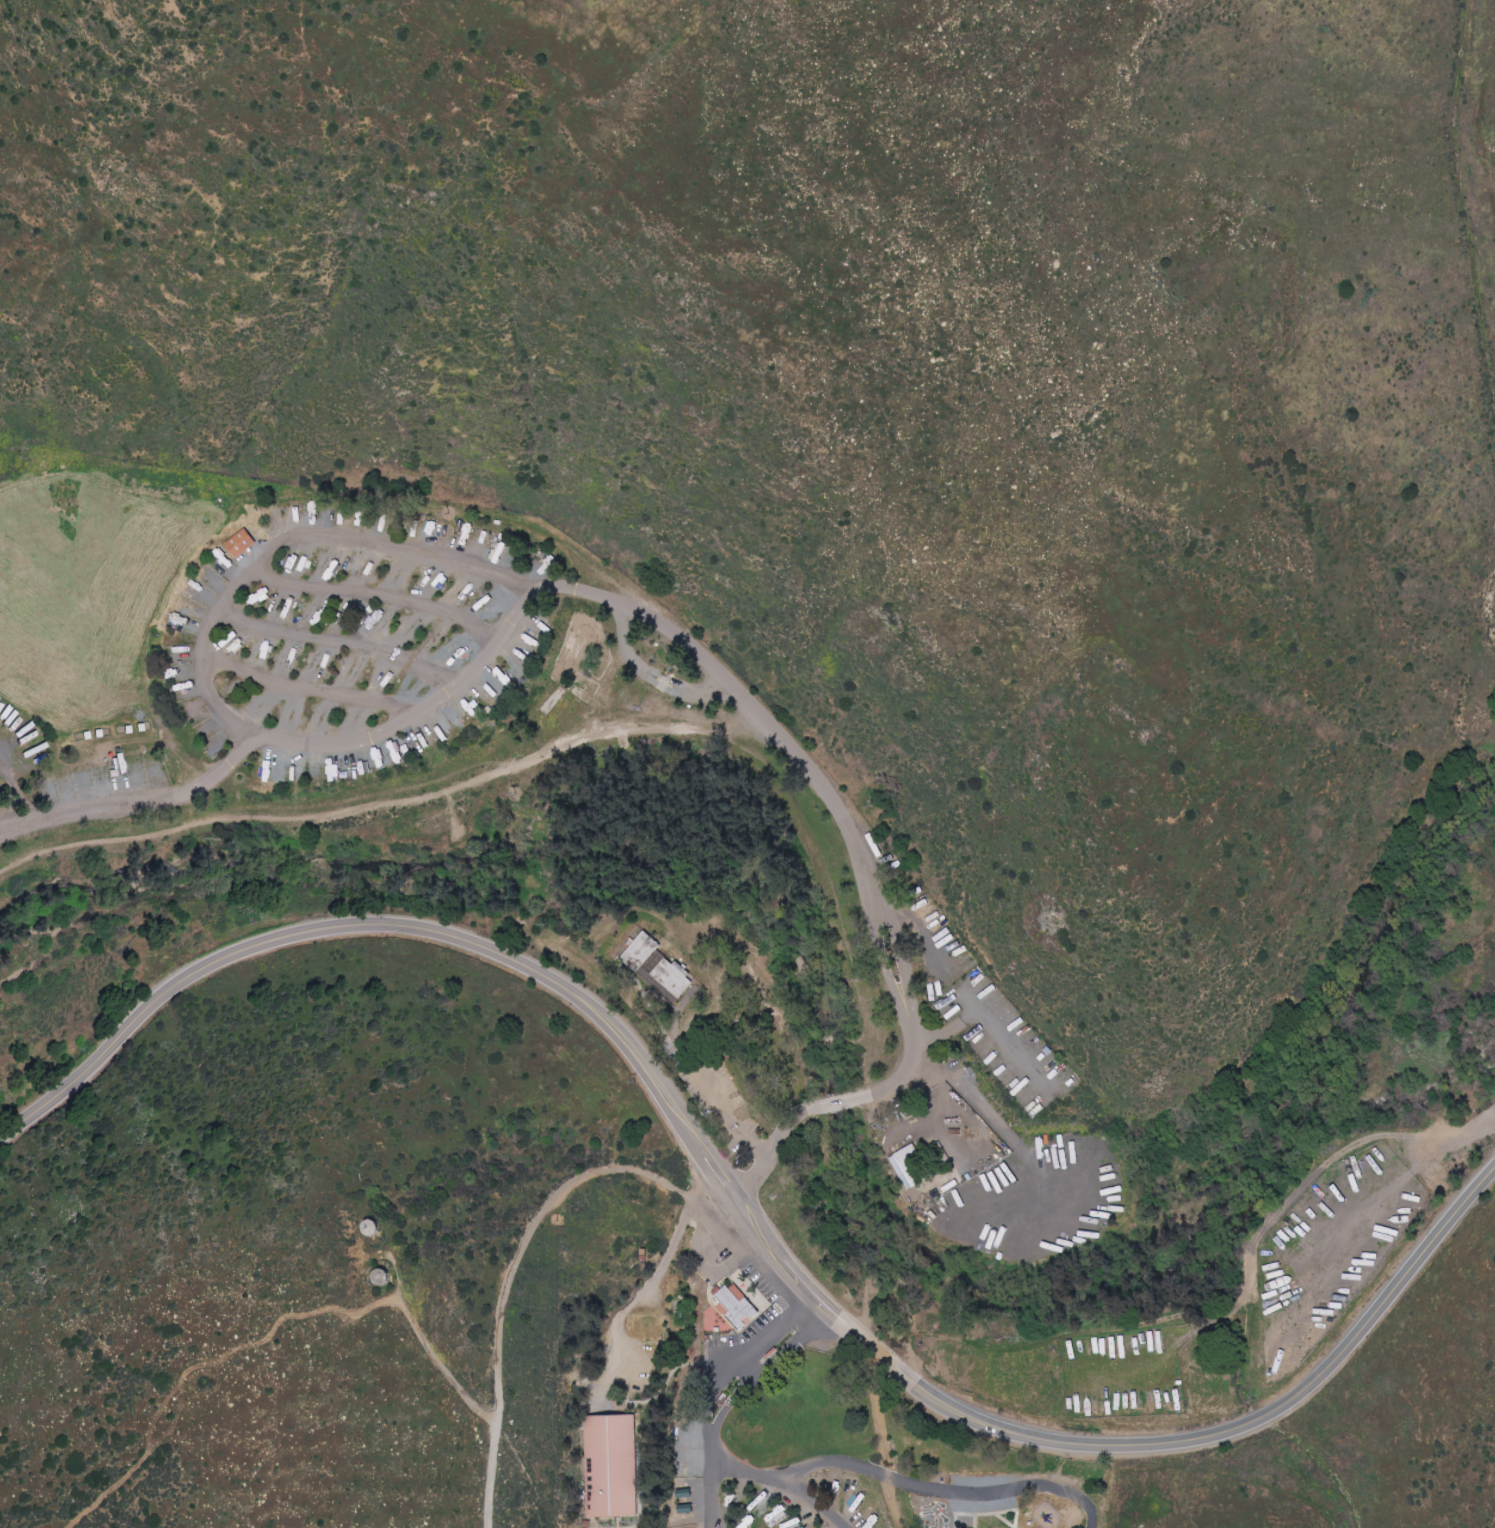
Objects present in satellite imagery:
building: (241, 543)
road: (559, 589)
road: (382, 601)
road: (320, 693)
road: (23, 795)
road: (136, 806)
road: (0, 838)
road: (374, 930)
building: (642, 951)
building: (674, 977)
road: (974, 1094)
building: (907, 1166)
road: (701, 1185)
road: (1043, 1194)
water tower: (368, 1223)
parking lot: (724, 1246)
water tower: (383, 1273)
road: (500, 1279)
parking lot: (767, 1290)
road: (643, 1291)
building: (739, 1302)
road: (425, 1340)
road: (723, 1395)
road: (1112, 1450)
building: (611, 1468)
road: (912, 1484)
road: (811, 1503)

